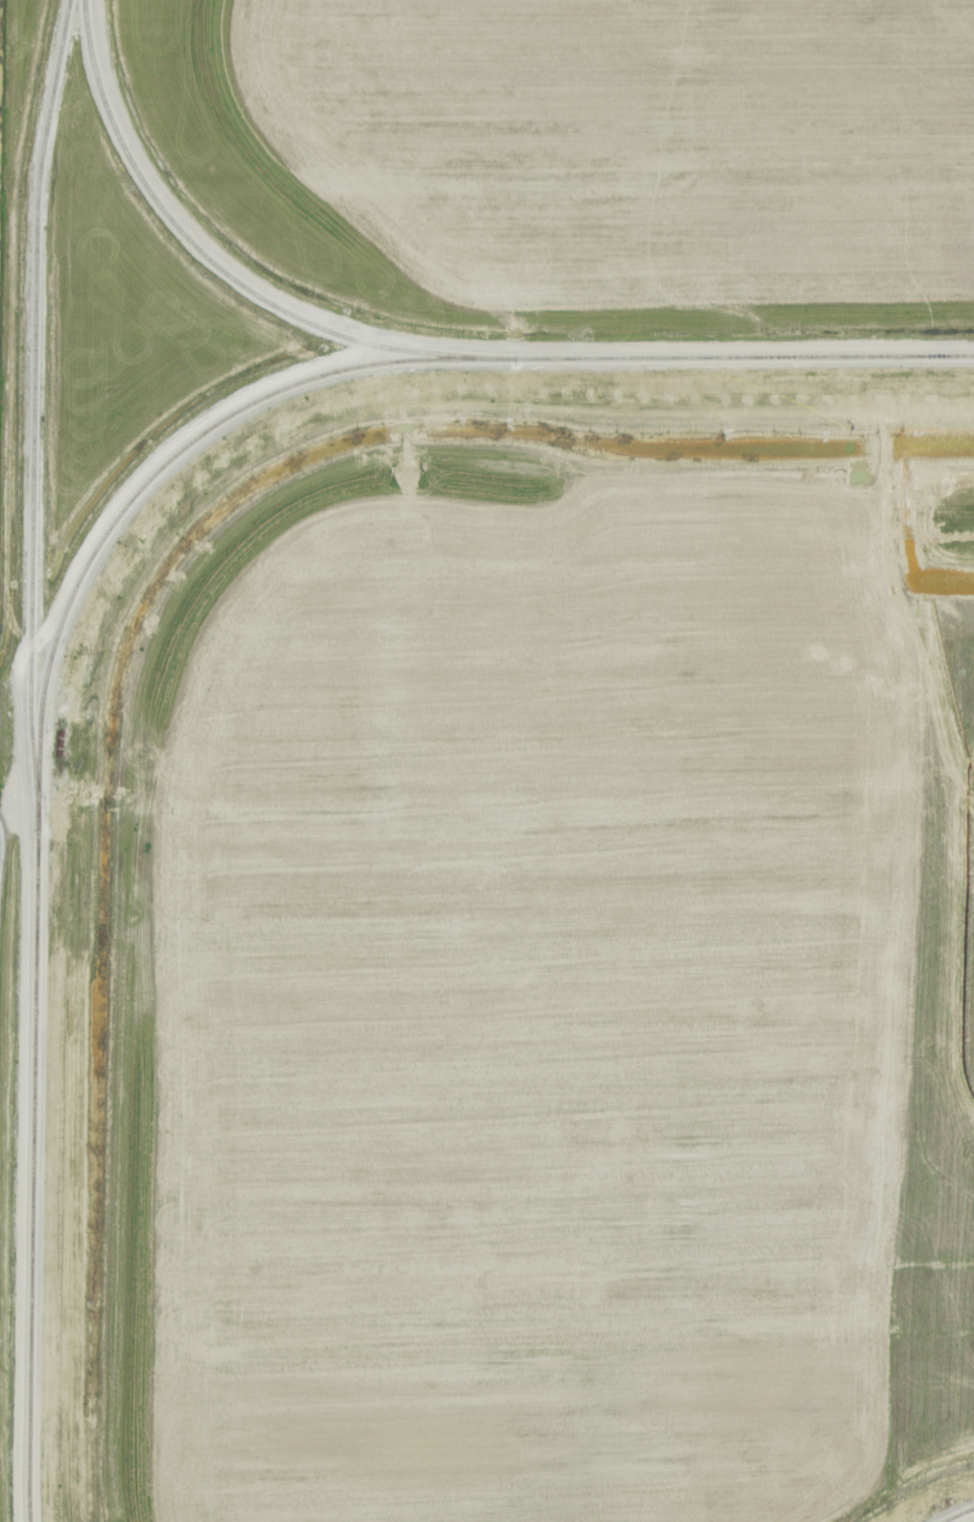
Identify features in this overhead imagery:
road: (1, 107)
road: (11, 793)
road: (17, 804)
road: (2, 864)

